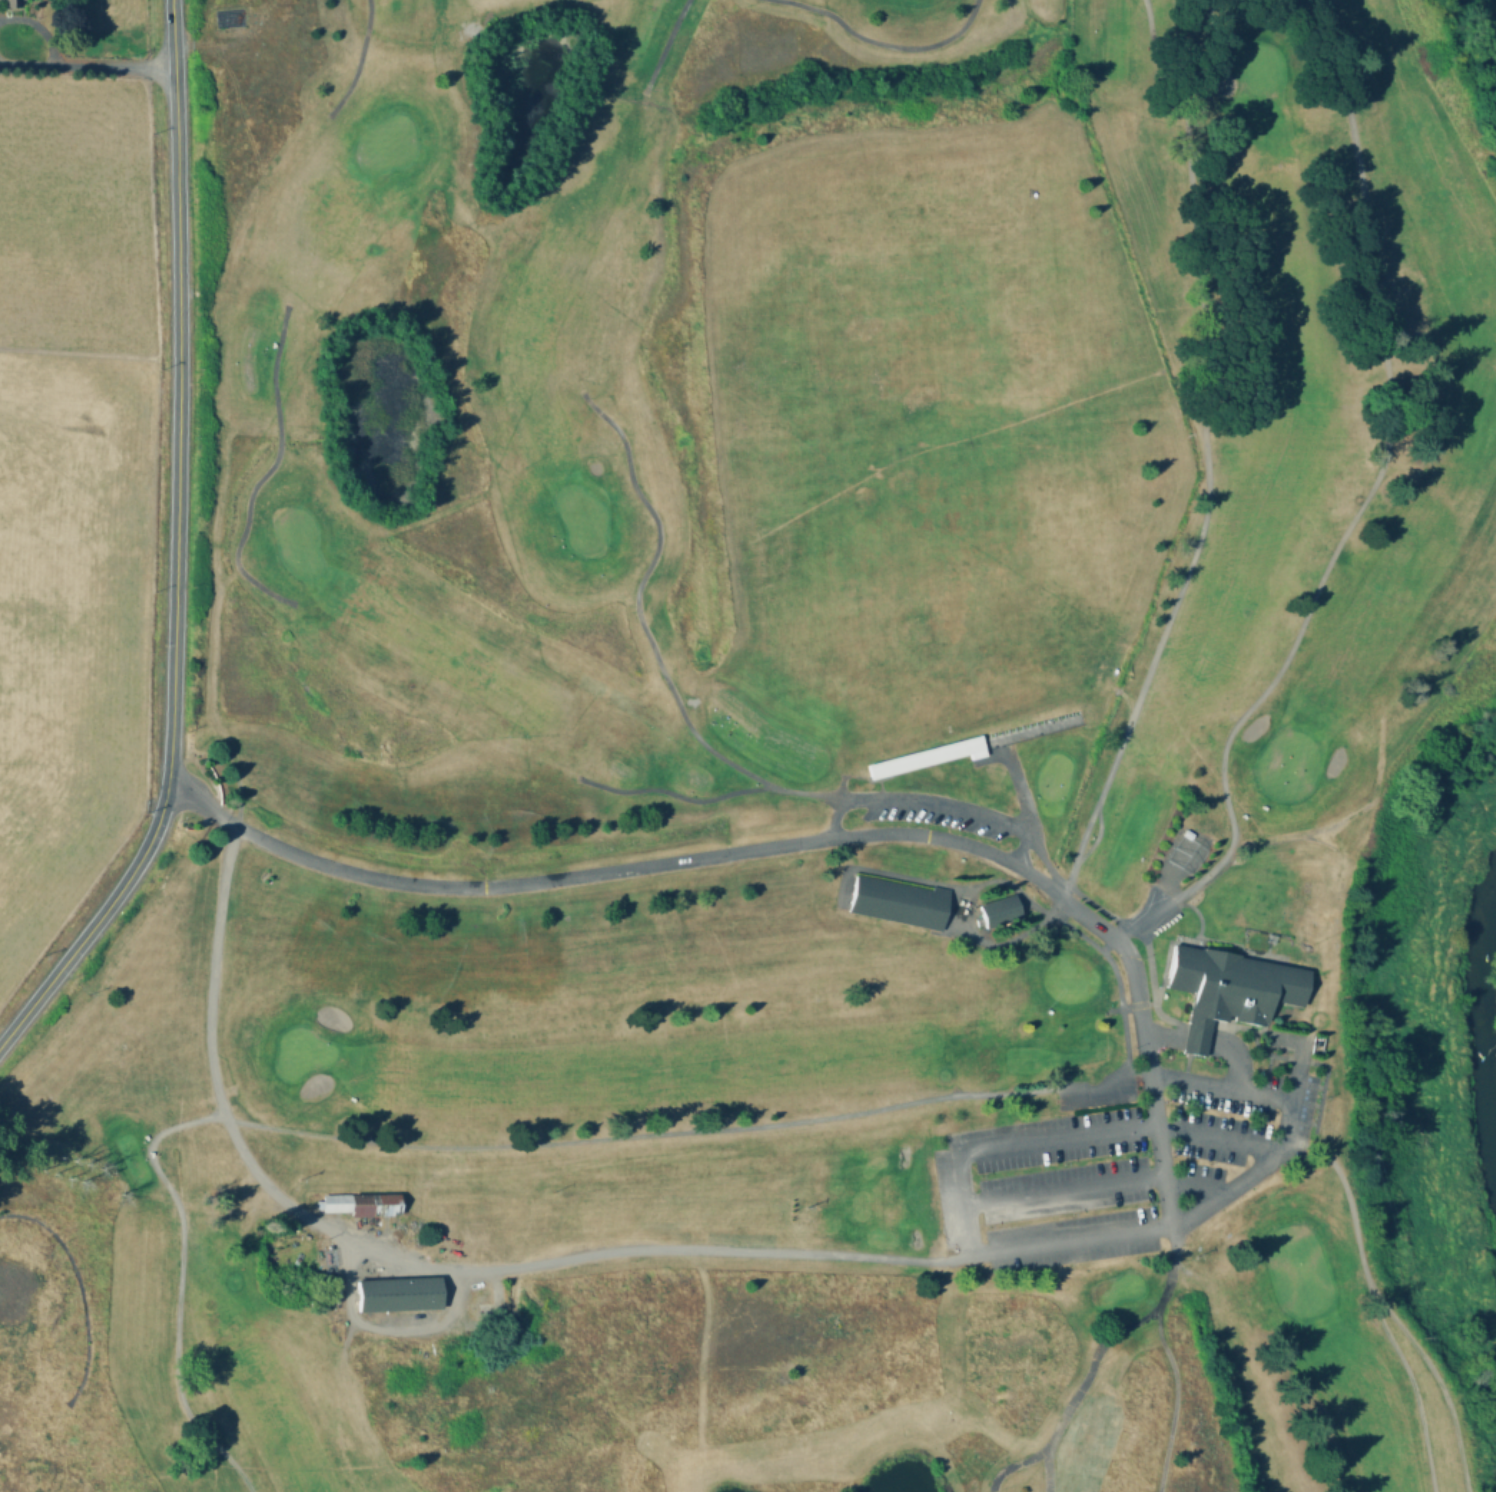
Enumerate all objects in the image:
building: (6, 3)
road: (886, 44)
road: (663, 46)
road: (358, 62)
road: (403, 63)
road: (87, 67)
park: (1255, 67)
road: (1183, 73)
road: (471, 220)
road: (265, 469)
road: (1371, 484)
crop: (70, 496)
road: (365, 524)
road: (175, 548)
road: (517, 606)
road: (648, 637)
road: (1152, 656)
building: (926, 760)
park: (788, 762)
park: (1286, 763)
road: (675, 794)
road: (1020, 795)
road: (932, 803)
road: (717, 854)
building: (896, 906)
road: (1154, 911)
building: (998, 915)
river: (1495, 927)
building: (1227, 993)
road: (1161, 1038)
road: (1192, 1044)
park: (300, 1051)
road: (1238, 1058)
road: (1299, 1075)
road: (1109, 1091)
road: (1152, 1104)
road: (1288, 1121)
road: (647, 1134)
parking lot: (1114, 1167)
road: (1128, 1184)
building: (360, 1207)
road: (1199, 1213)
road: (970, 1251)
road: (422, 1265)
park: (1296, 1269)
road: (178, 1285)
building: (396, 1296)
road: (1383, 1304)
road: (1114, 1333)
road: (1175, 1393)
road: (1416, 1393)
road: (1012, 1464)
road: (1046, 1470)

